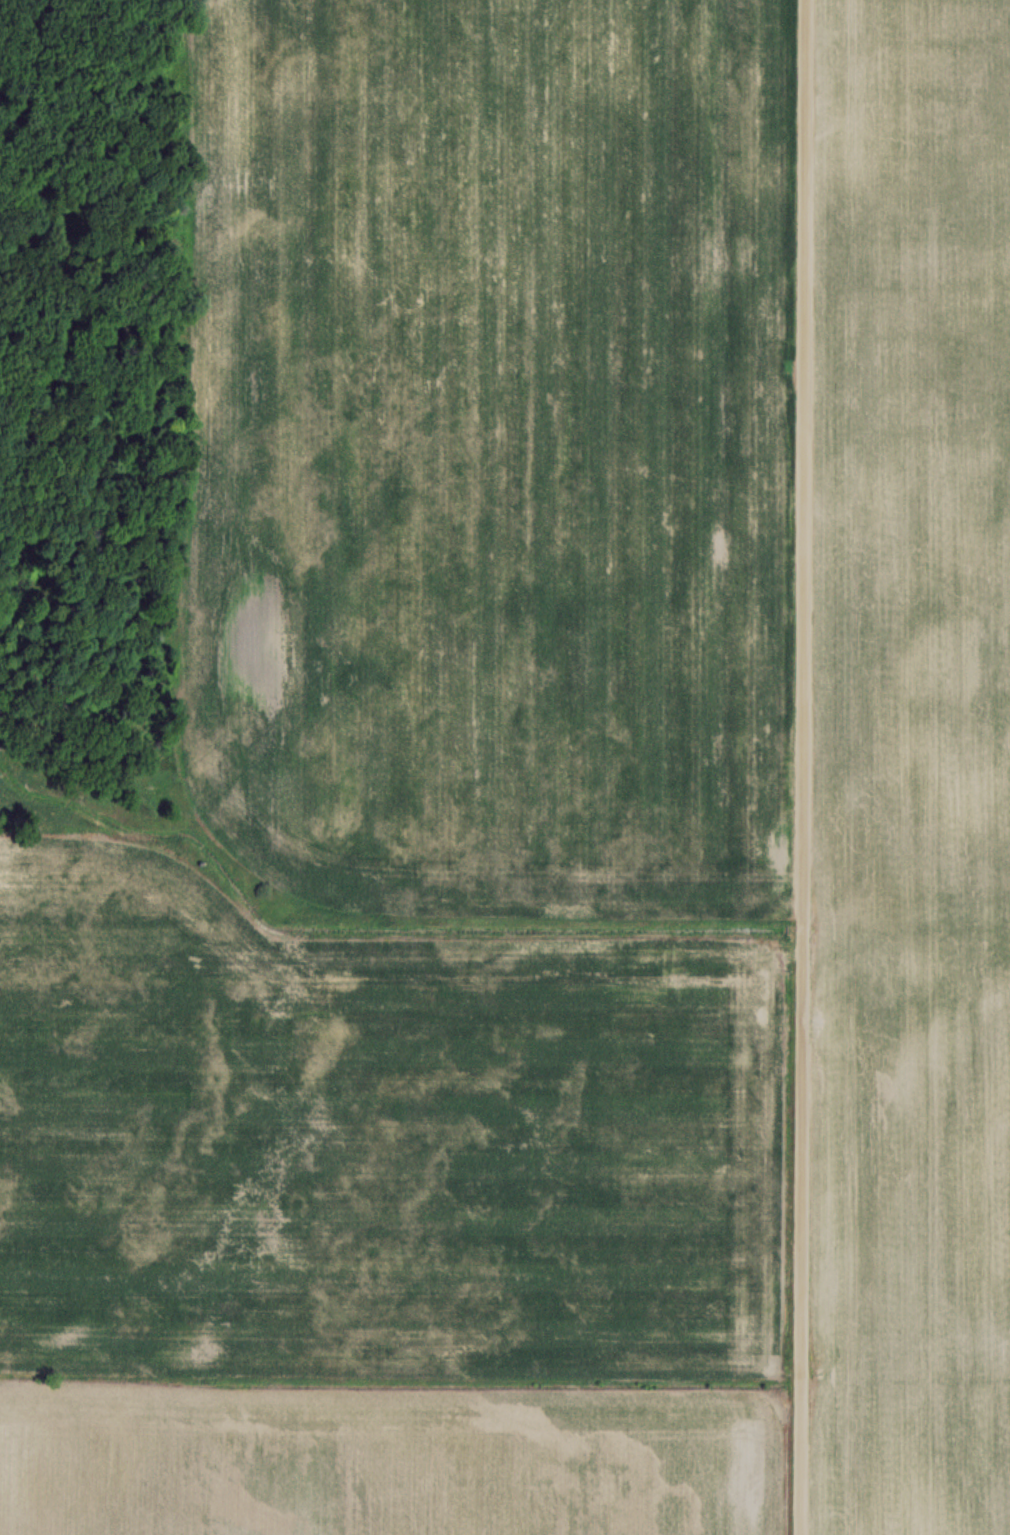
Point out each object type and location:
road: (804, 767)

